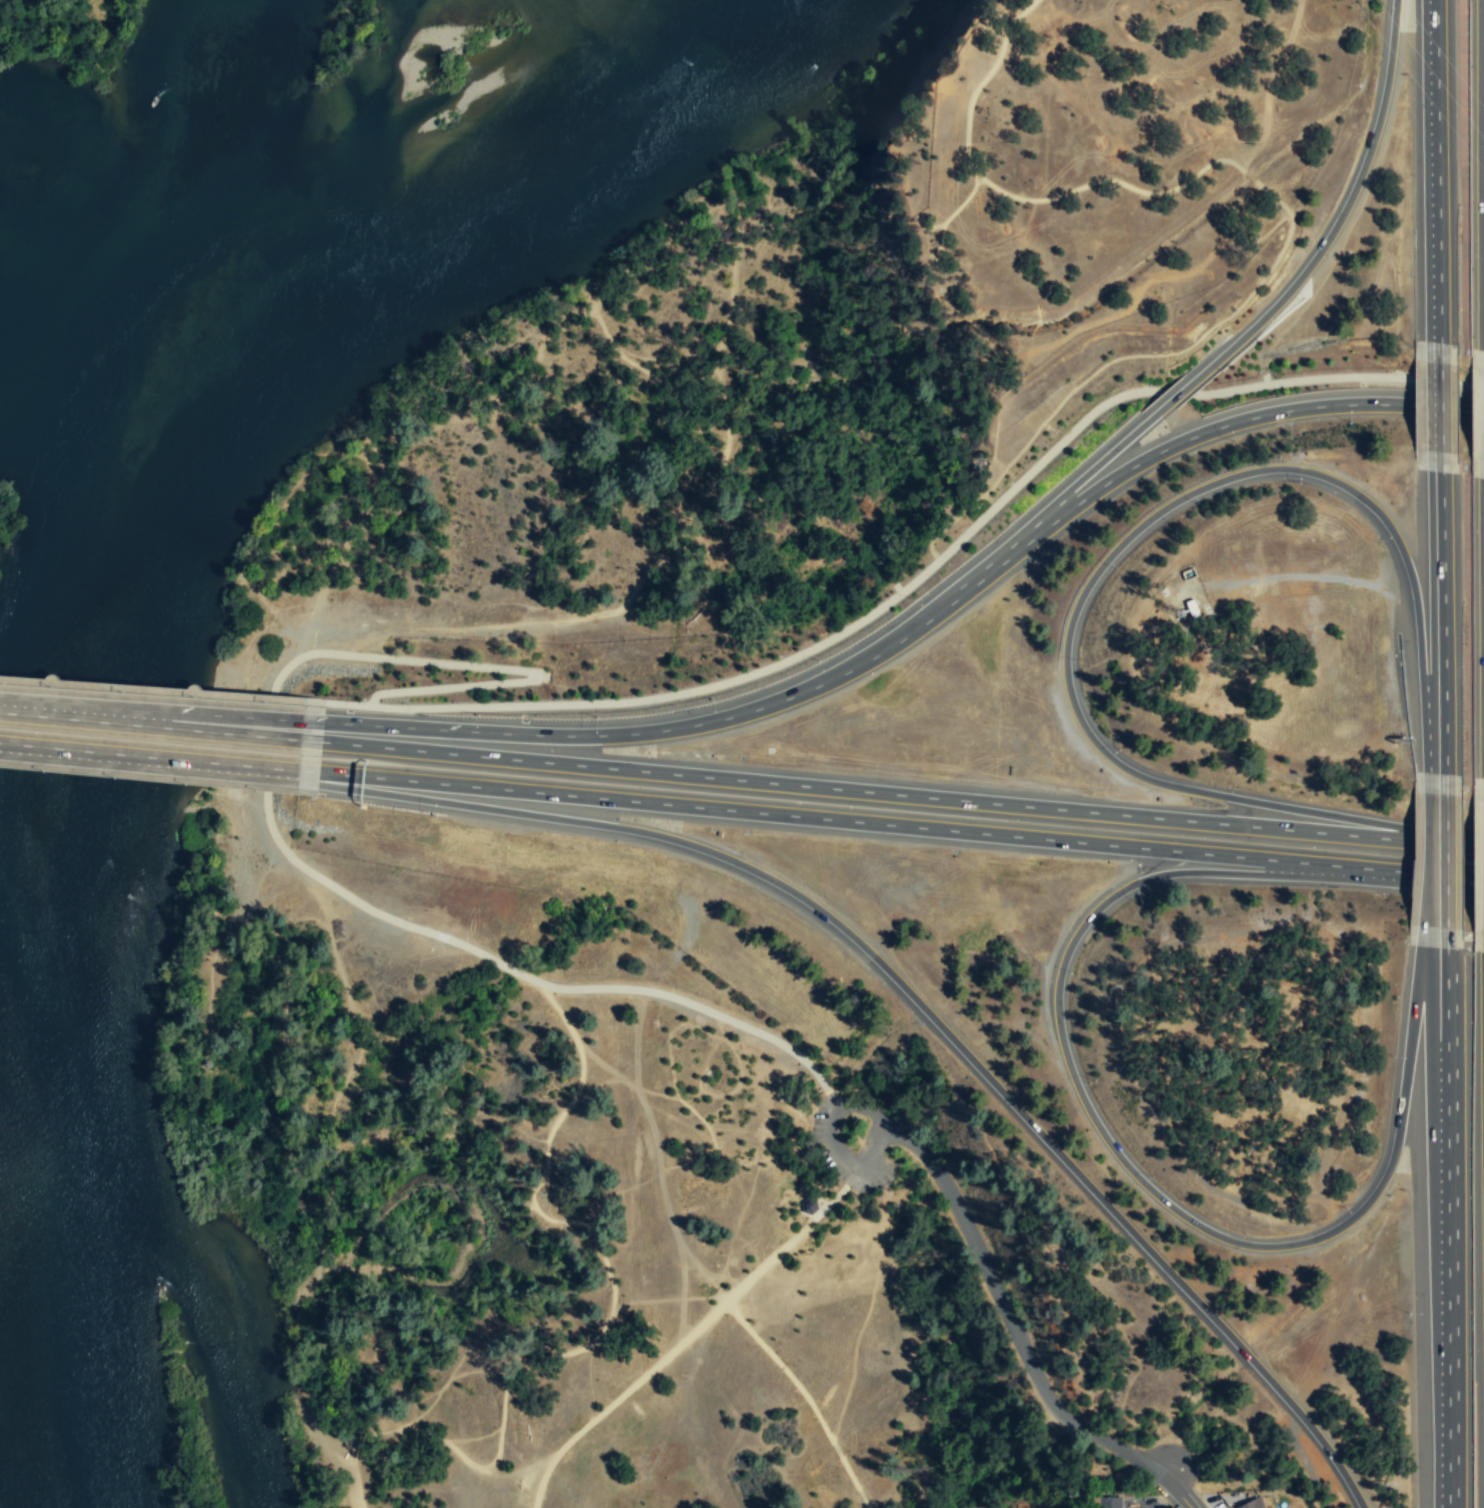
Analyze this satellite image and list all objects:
road: (1271, 85)
park: (1126, 163)
road: (1436, 170)
road: (1249, 176)
road: (1018, 198)
road: (1346, 205)
road: (951, 213)
road: (734, 282)
road: (551, 331)
road: (1165, 354)
road: (1305, 380)
road: (1464, 386)
road: (1180, 392)
road: (1435, 406)
road: (1435, 407)
road: (1464, 412)
road: (1477, 414)
road: (382, 429)
road: (1201, 433)
park: (550, 461)
road: (1082, 480)
road: (970, 506)
road: (940, 533)
road: (349, 539)
road: (1106, 559)
road: (984, 570)
road: (1436, 598)
river: (87, 599)
road: (602, 612)
road: (778, 663)
road: (485, 666)
road: (151, 689)
road: (72, 711)
road: (234, 715)
road: (655, 731)
road: (232, 733)
road: (268, 742)
road: (110, 755)
road: (1438, 760)
road: (269, 768)
road: (268, 778)
road: (866, 790)
road: (894, 824)
road: (1448, 841)
road: (1438, 860)
road: (1477, 883)
road: (1477, 885)
road: (533, 979)
road: (923, 1008)
road: (740, 1080)
road: (694, 1113)
road: (828, 1136)
parking lot: (878, 1143)
road: (660, 1152)
road: (1142, 1180)
road: (830, 1202)
building: (809, 1204)
road: (1446, 1217)
park: (615, 1219)
road: (1011, 1318)
road: (603, 1328)
road: (665, 1357)
road: (806, 1397)
road: (1175, 1488)
building: (1110, 1502)
building: (1253, 1504)

